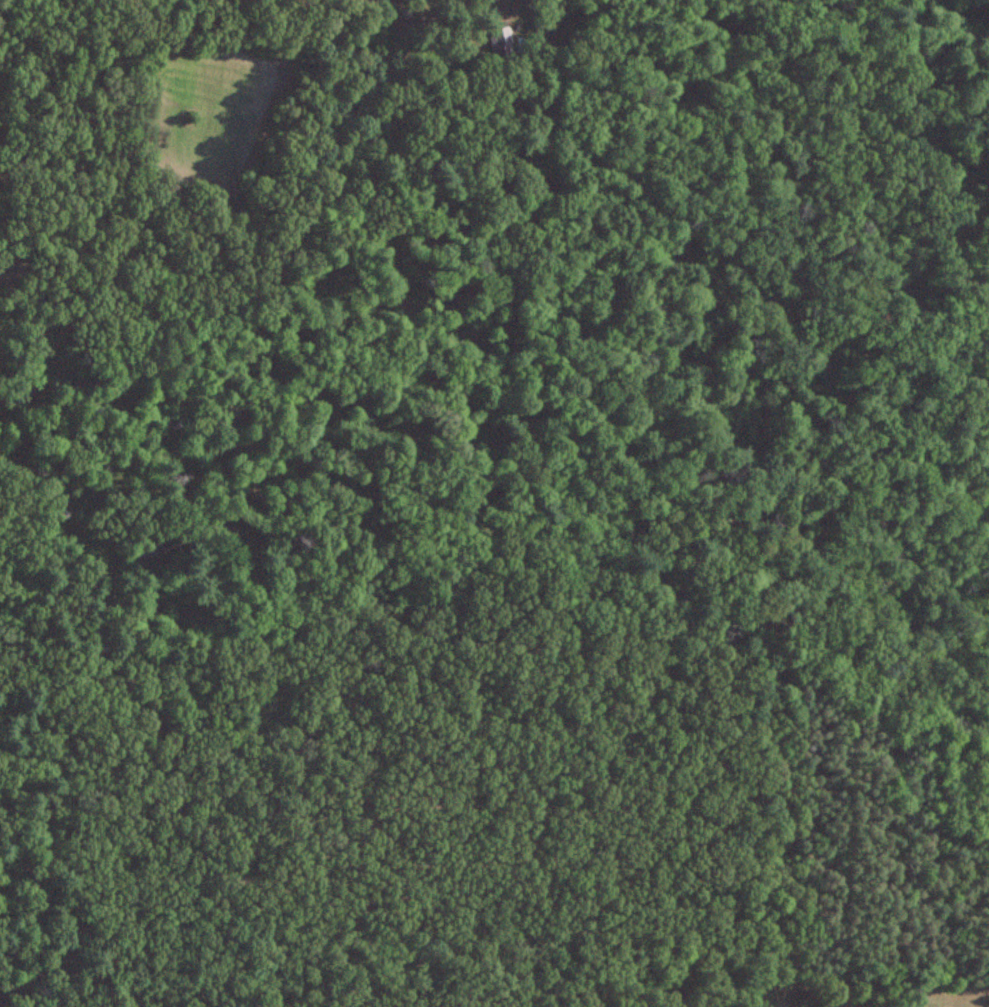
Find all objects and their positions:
road: (6, 0)
road: (365, 20)

